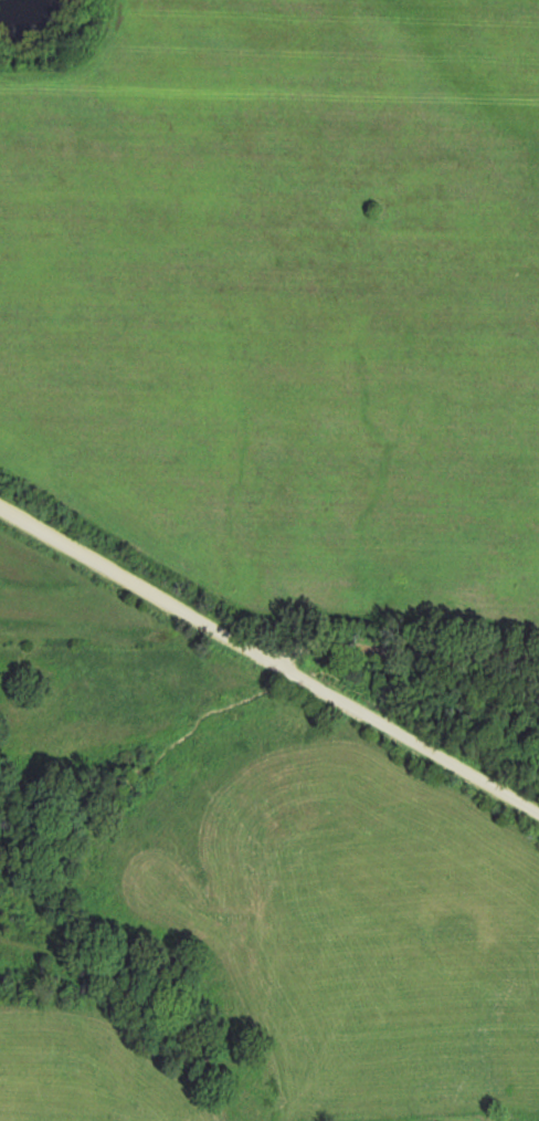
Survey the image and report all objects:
road: (397, 664)
road: (267, 669)

